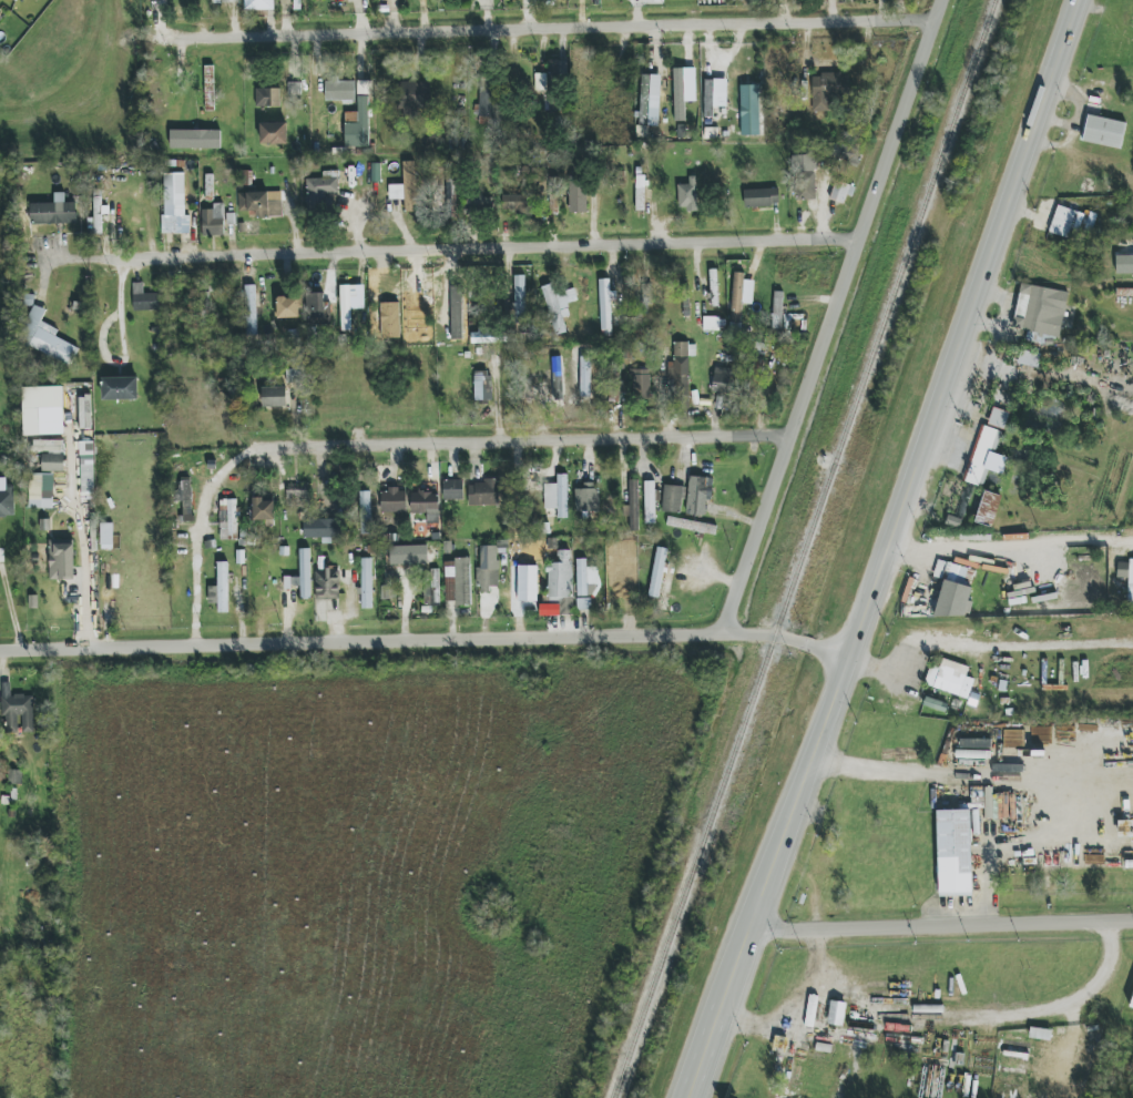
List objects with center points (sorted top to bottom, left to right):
building: (14, 0)
building: (225, 1)
building: (259, 4)
building: (1, 16)
road: (551, 29)
building: (558, 70)
building: (540, 82)
building: (210, 88)
building: (294, 89)
building: (828, 90)
building: (340, 91)
building: (678, 94)
building: (714, 95)
building: (268, 96)
building: (414, 96)
building: (486, 96)
building: (649, 100)
building: (749, 110)
building: (359, 126)
building: (1102, 131)
building: (274, 133)
building: (195, 139)
building: (805, 177)
building: (406, 187)
building: (174, 189)
building: (323, 190)
building: (841, 192)
building: (688, 195)
building: (578, 196)
building: (640, 196)
building: (762, 197)
building: (259, 203)
building: (479, 203)
building: (516, 204)
building: (53, 212)
building: (96, 221)
building: (213, 221)
building: (1065, 222)
building: (1090, 223)
building: (175, 224)
road: (488, 250)
road: (83, 260)
building: (1124, 264)
building: (713, 287)
building: (1124, 292)
building: (519, 295)
building: (741, 296)
building: (144, 298)
building: (558, 304)
building: (316, 305)
building: (287, 307)
building: (345, 307)
building: (605, 308)
building: (777, 309)
building: (249, 311)
building: (1040, 312)
building: (457, 313)
road: (831, 318)
building: (711, 324)
building: (489, 336)
building: (45, 338)
building: (1029, 358)
building: (680, 367)
building: (722, 379)
building: (641, 383)
building: (482, 385)
building: (120, 388)
building: (548, 392)
building: (274, 396)
building: (42, 397)
building: (85, 411)
building: (998, 418)
building: (49, 439)
road: (524, 439)
building: (86, 455)
building: (984, 456)
building: (52, 462)
building: (41, 490)
building: (453, 490)
building: (297, 494)
building: (483, 494)
building: (698, 495)
building: (558, 496)
building: (185, 498)
building: (673, 499)
building: (394, 500)
building: (586, 500)
building: (7, 502)
building: (650, 502)
building: (426, 505)
building: (632, 508)
building: (988, 509)
building: (264, 510)
building: (365, 512)
building: (228, 519)
building: (691, 526)
building: (321, 528)
road: (198, 536)
road: (1009, 545)
road: (84, 549)
railway: (806, 549)
road: (886, 549)
building: (409, 555)
building: (61, 560)
building: (488, 569)
building: (657, 572)
building: (953, 572)
building: (305, 573)
building: (553, 573)
building: (1126, 578)
building: (586, 579)
building: (458, 581)
building: (327, 583)
building: (366, 583)
building: (435, 586)
building: (220, 589)
building: (955, 600)
building: (583, 604)
road: (11, 609)
road: (425, 644)
building: (951, 680)
building: (17, 712)
building: (974, 743)
road: (971, 773)
building: (974, 822)
building: (953, 853)
road: (940, 926)
building: (1131, 1004)
road: (1065, 1008)
road: (797, 1013)
building: (836, 1014)
building: (1025, 1057)

